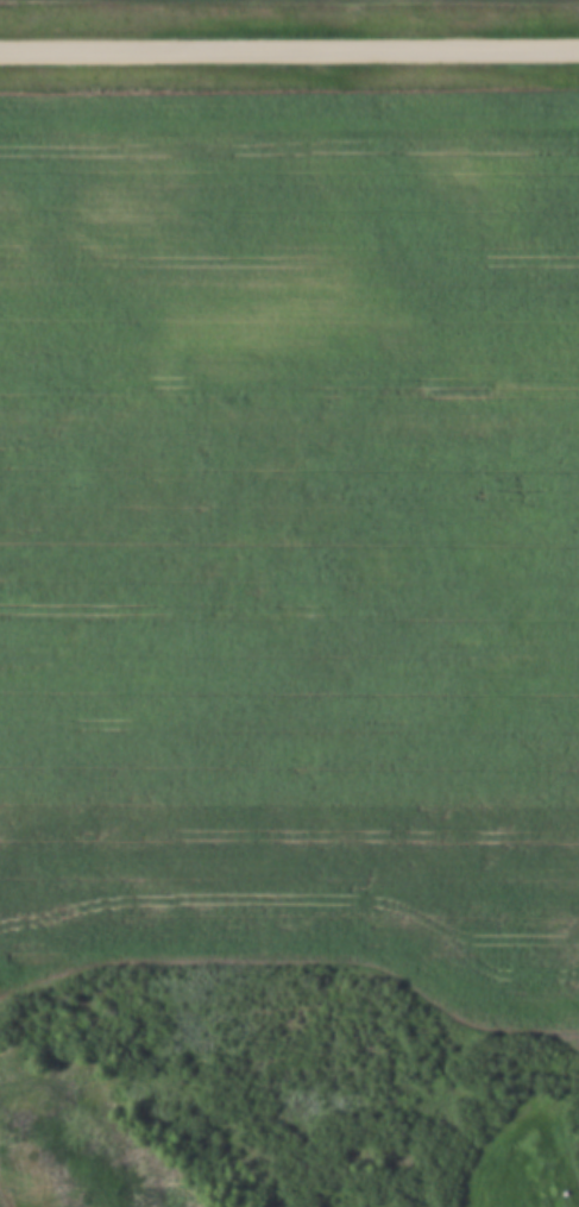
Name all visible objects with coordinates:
road: (289, 50)

